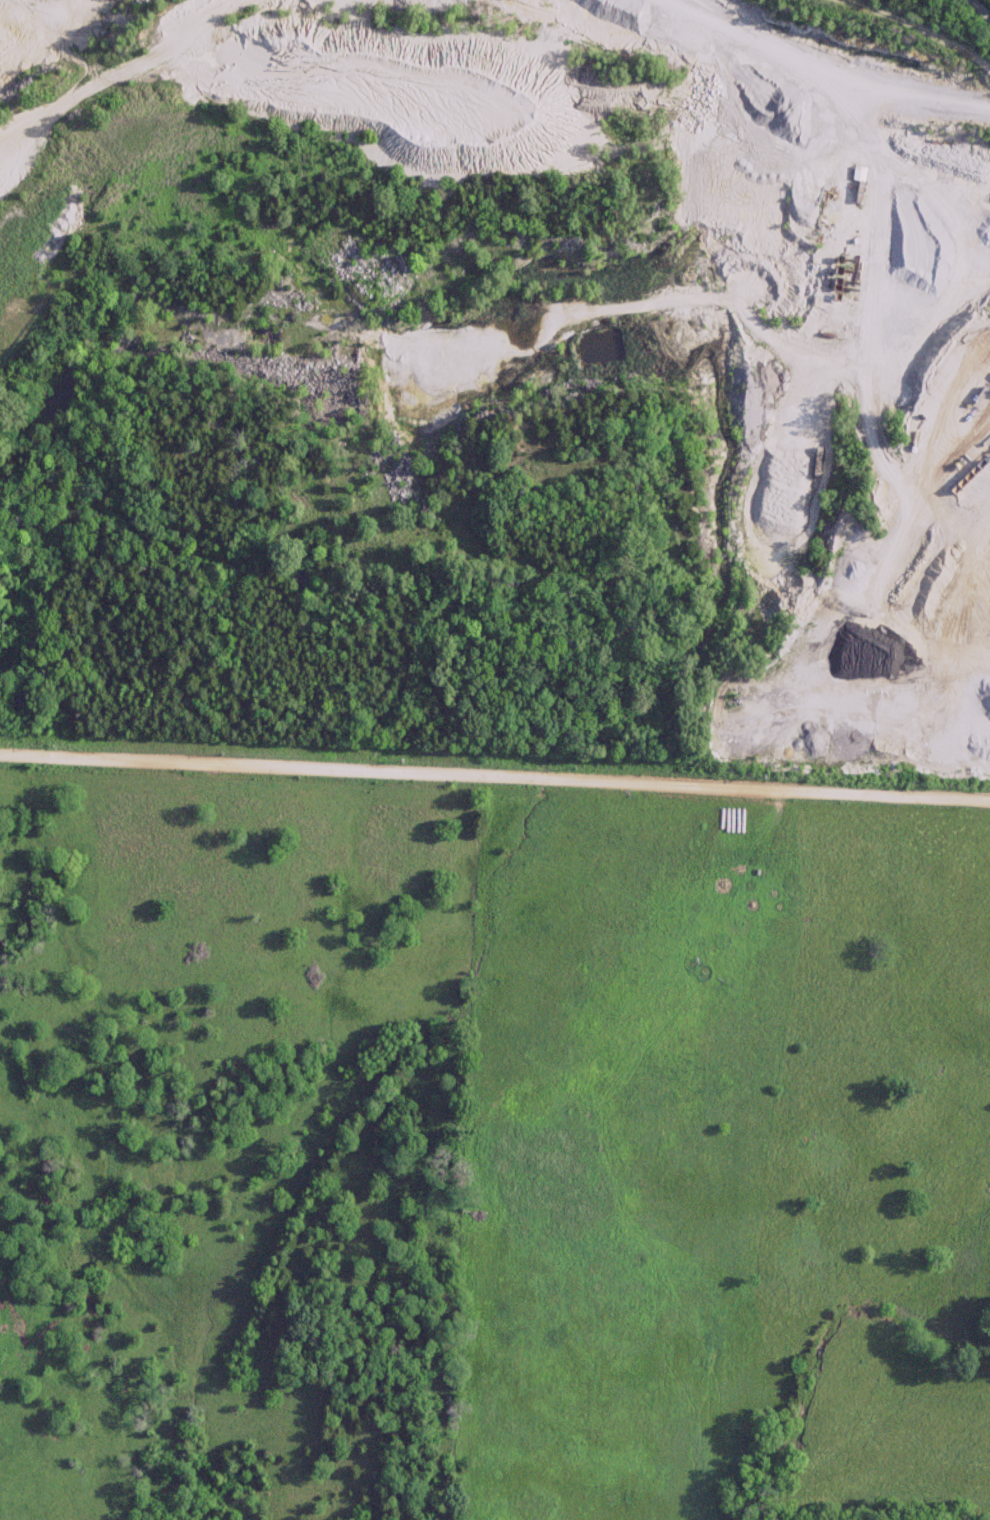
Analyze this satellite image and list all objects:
road: (982, 7)
road: (494, 775)

